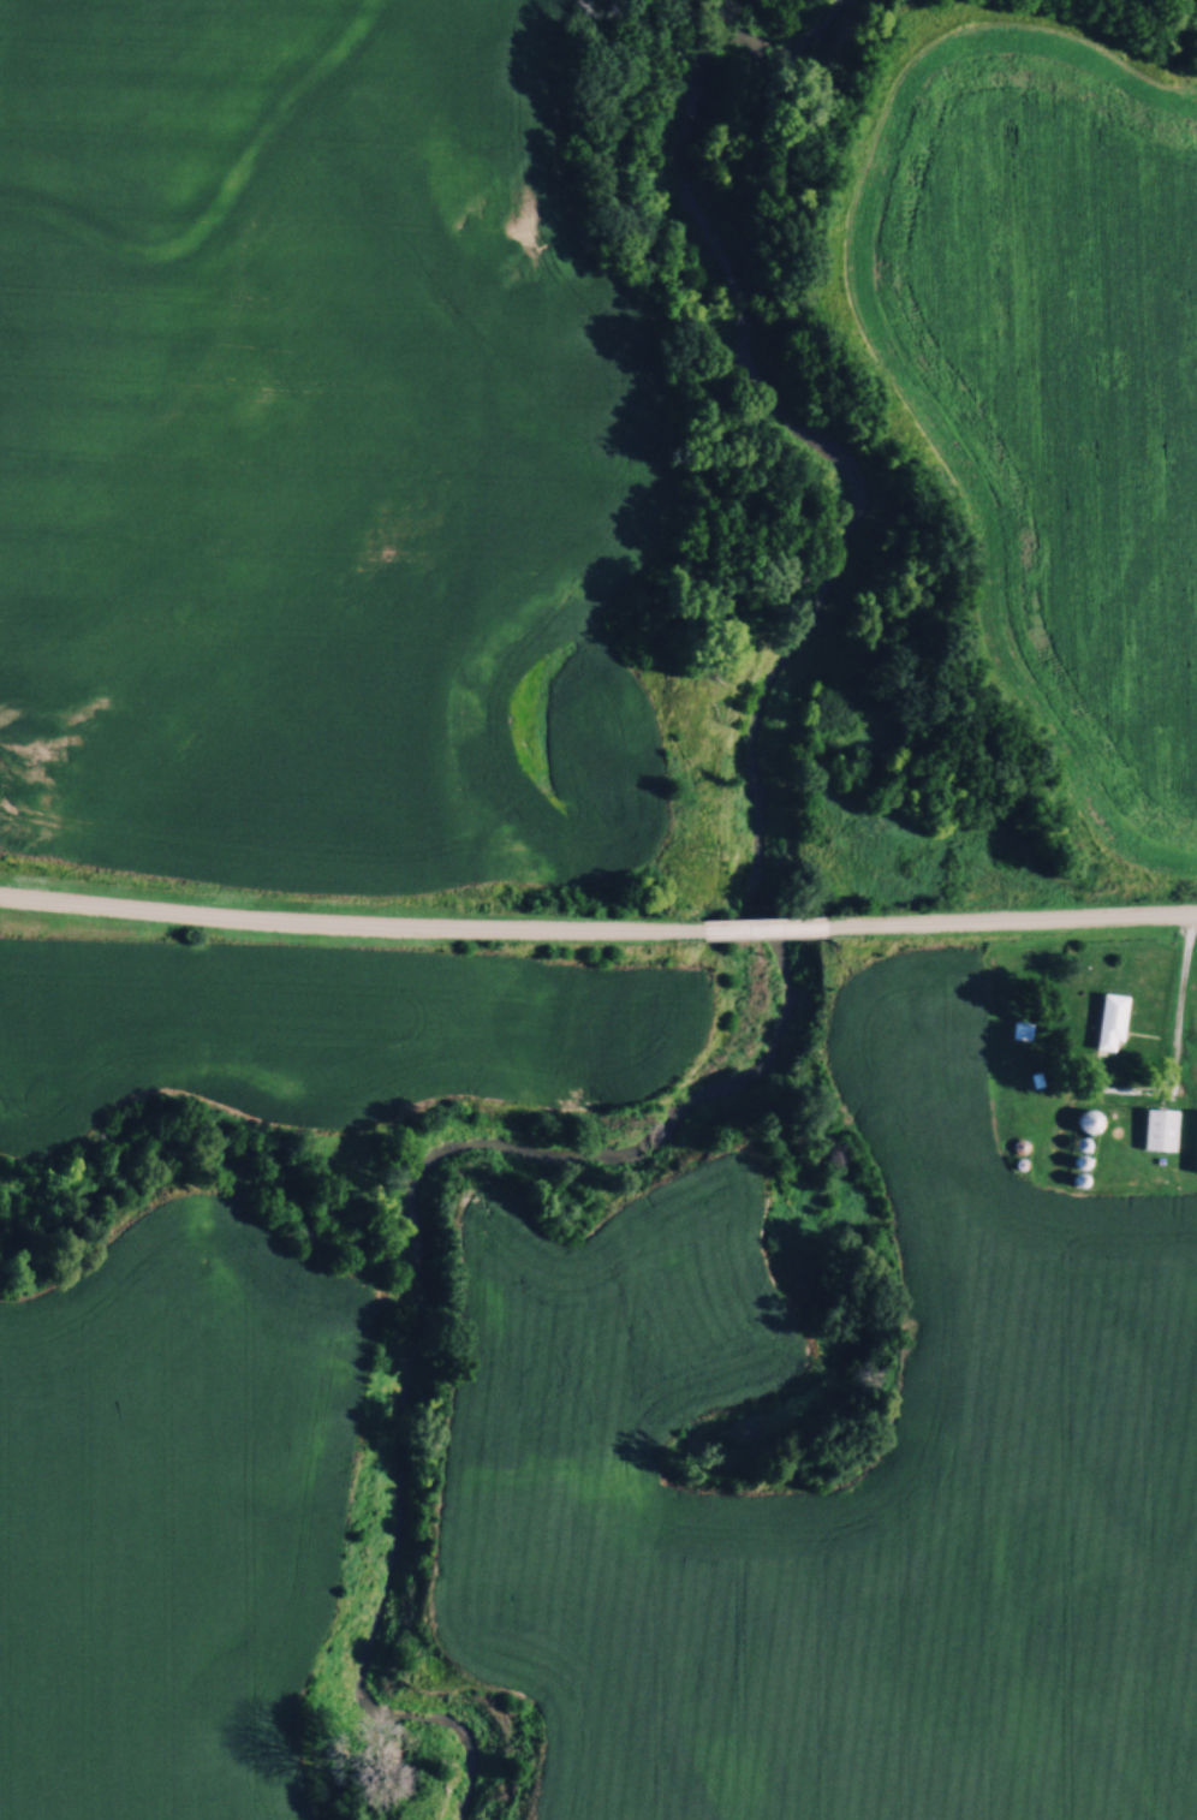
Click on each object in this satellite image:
road: (1010, 918)
road: (350, 921)
road: (762, 927)
road: (1181, 983)
building: (1110, 1019)
building: (1022, 1028)
building: (1088, 1118)
building: (1160, 1126)

